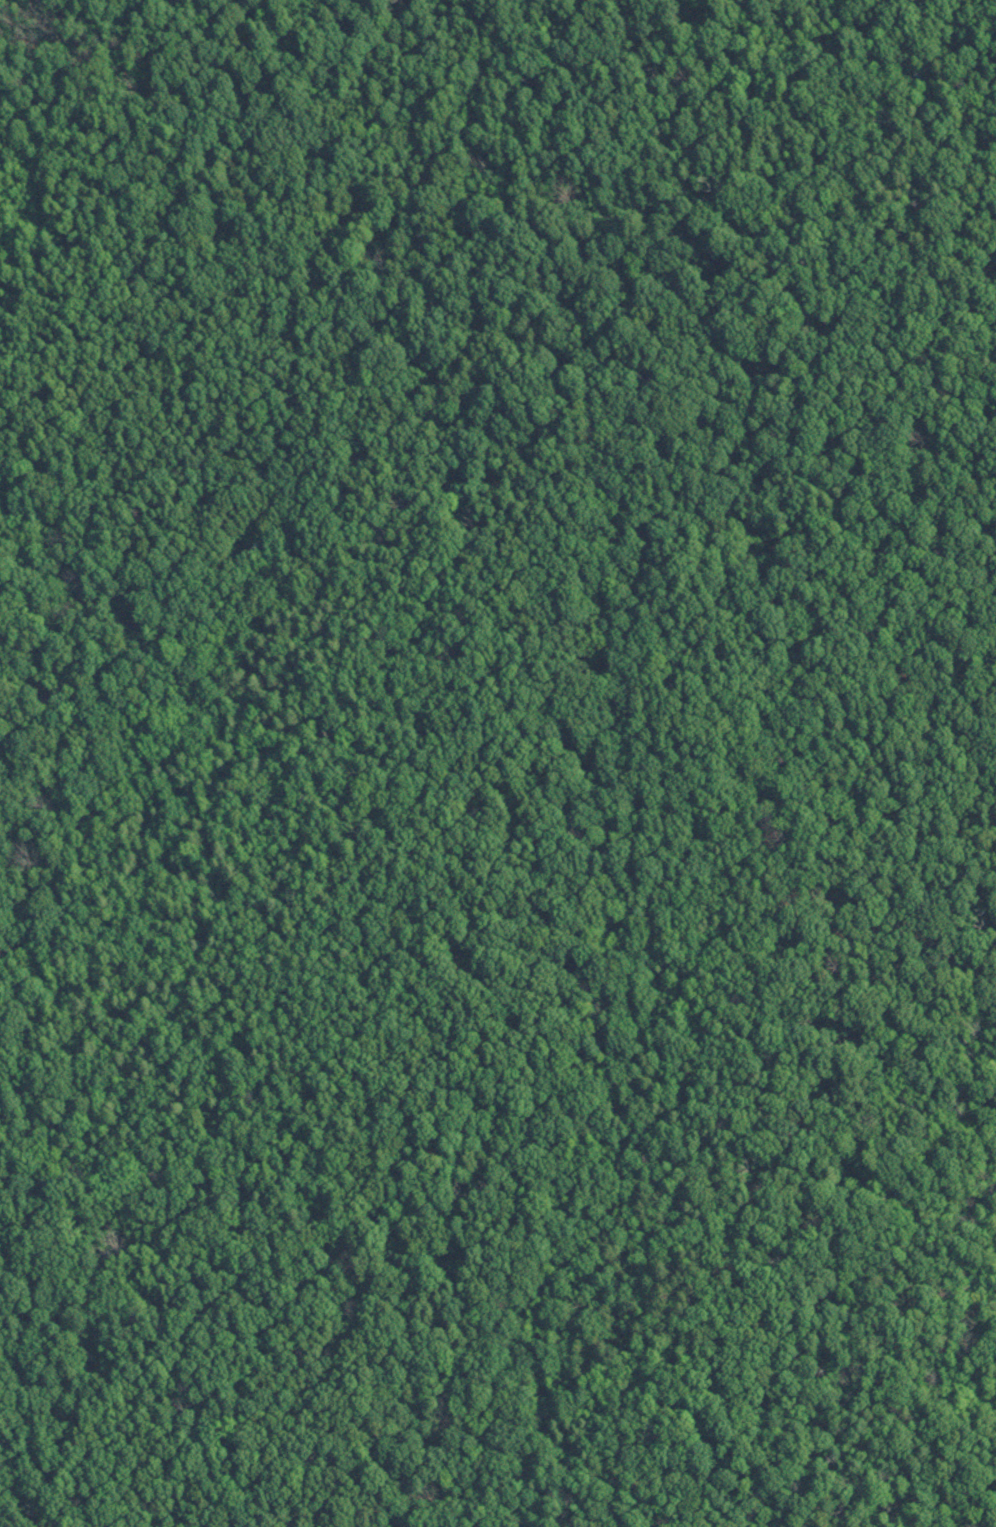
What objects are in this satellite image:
road: (900, 1410)

